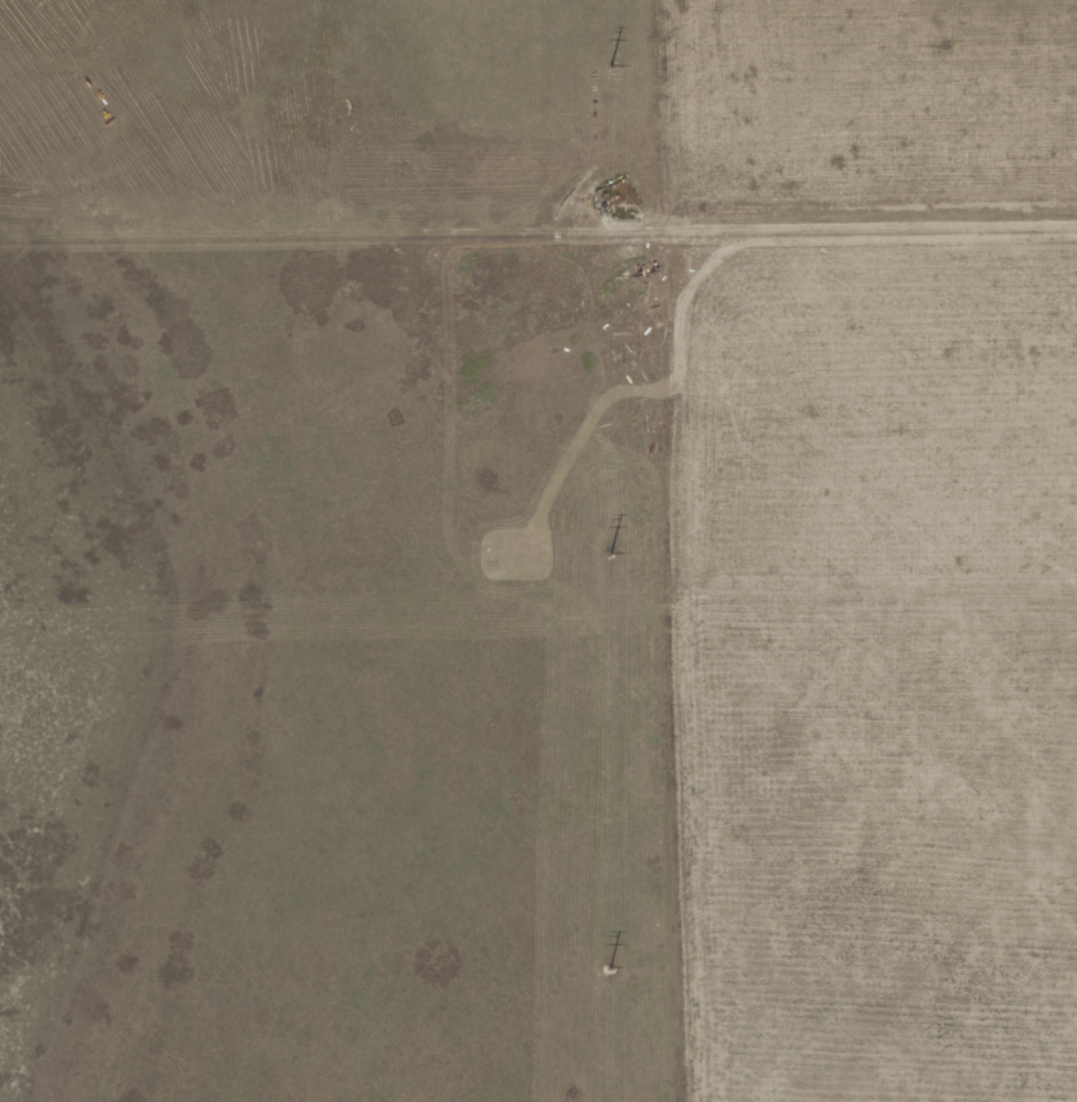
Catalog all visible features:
power tower: (610, 66)
power tower: (611, 550)
power tower: (610, 967)

